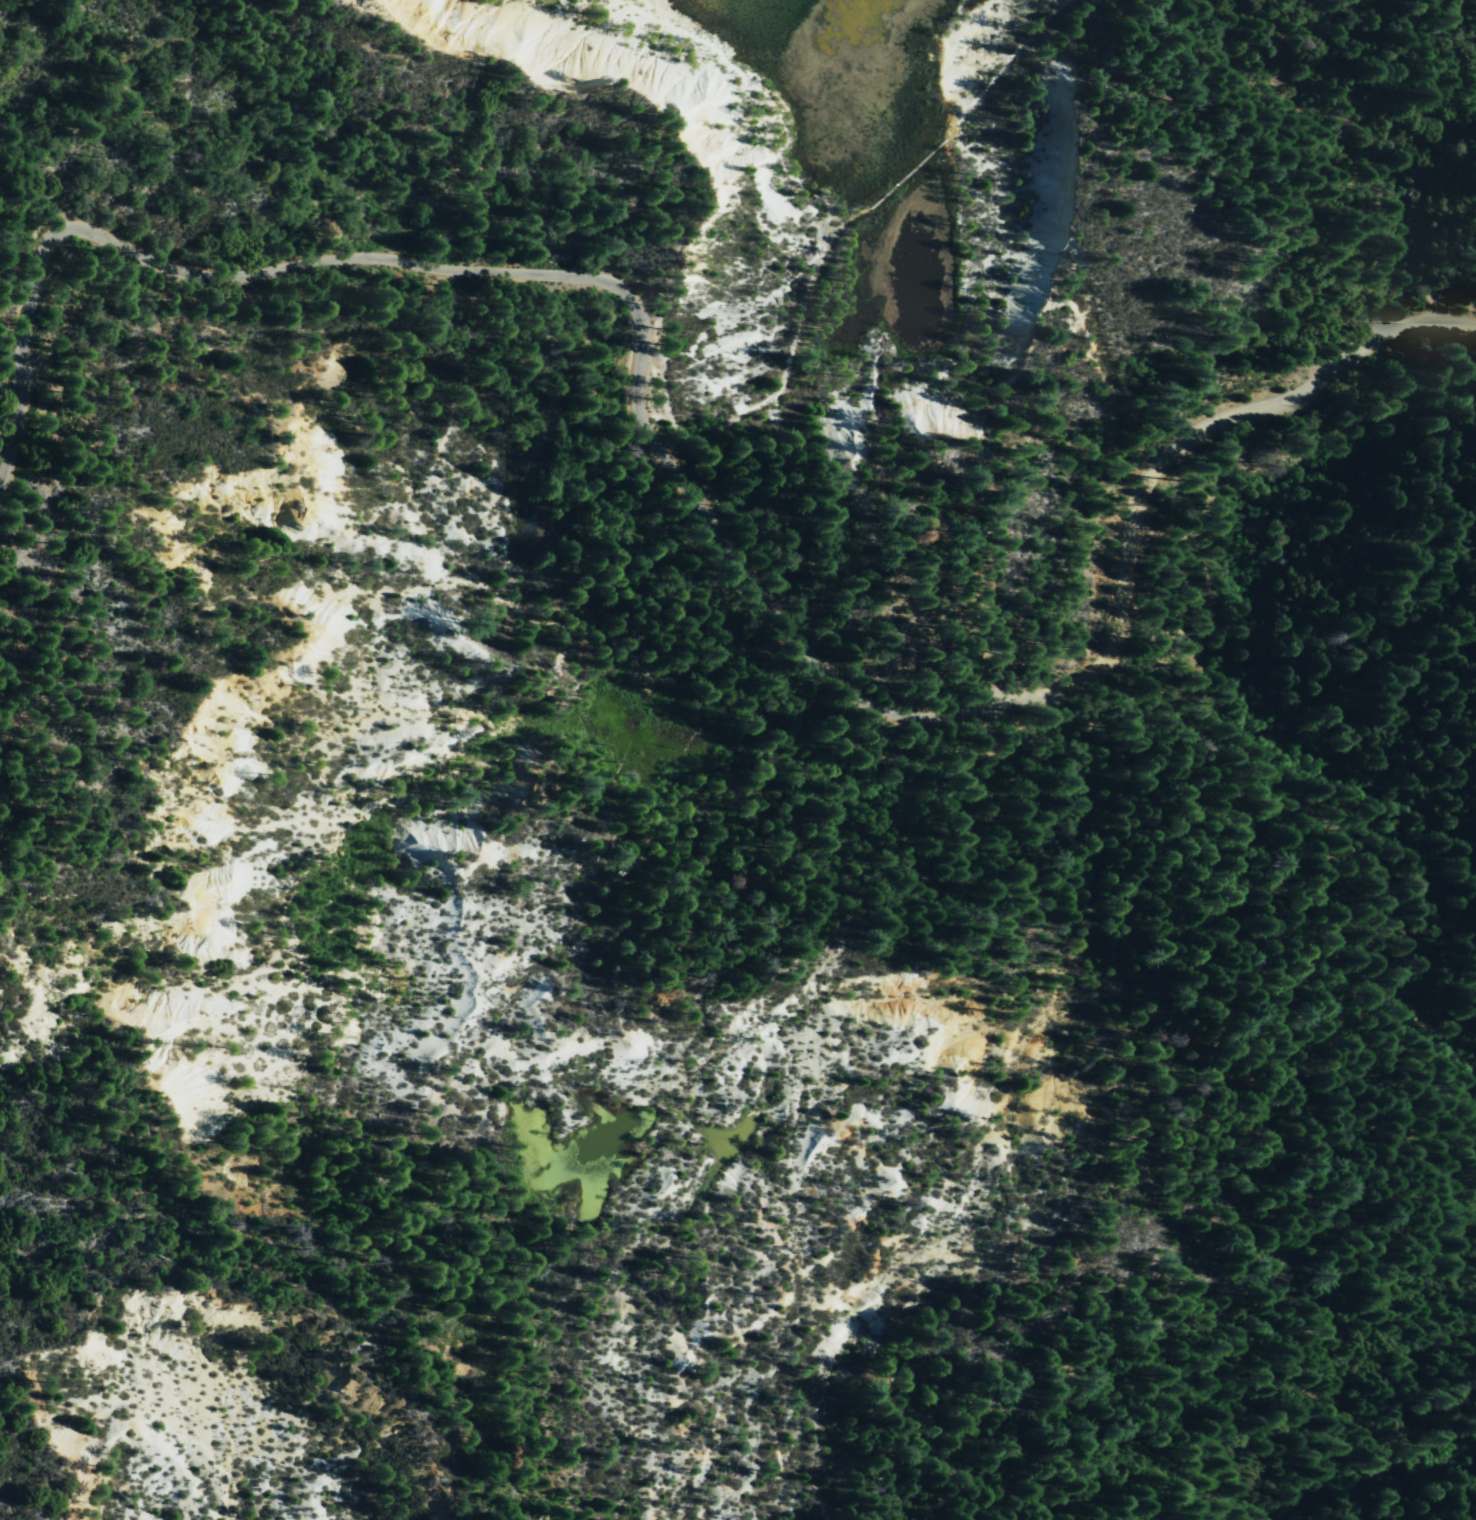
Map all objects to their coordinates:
road: (1302, 167)
road: (835, 219)
park: (824, 238)
road: (493, 271)
road: (778, 385)
road: (1156, 472)
parking lot: (1040, 716)
road: (1258, 857)
park: (705, 965)
road: (1370, 1445)

